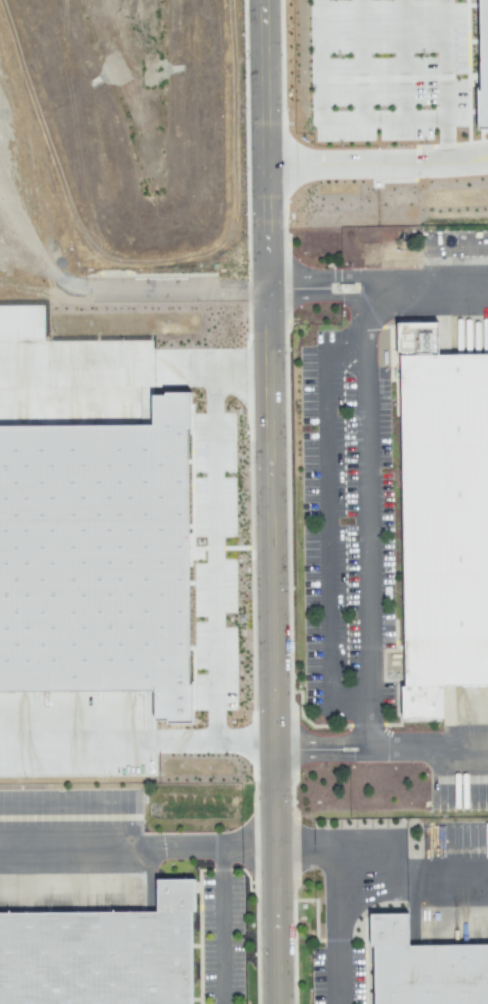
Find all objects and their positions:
building: (480, 65)
road: (445, 83)
road: (360, 102)
road: (376, 167)
road: (377, 290)
road: (184, 299)
road: (76, 365)
road: (210, 366)
road: (325, 501)
road: (269, 502)
building: (442, 518)
road: (364, 529)
road: (214, 553)
road: (215, 741)
road: (79, 743)
road: (426, 748)
road: (341, 749)
road: (137, 850)
road: (380, 871)
road: (220, 927)
road: (339, 931)
building: (96, 940)
building: (423, 968)

